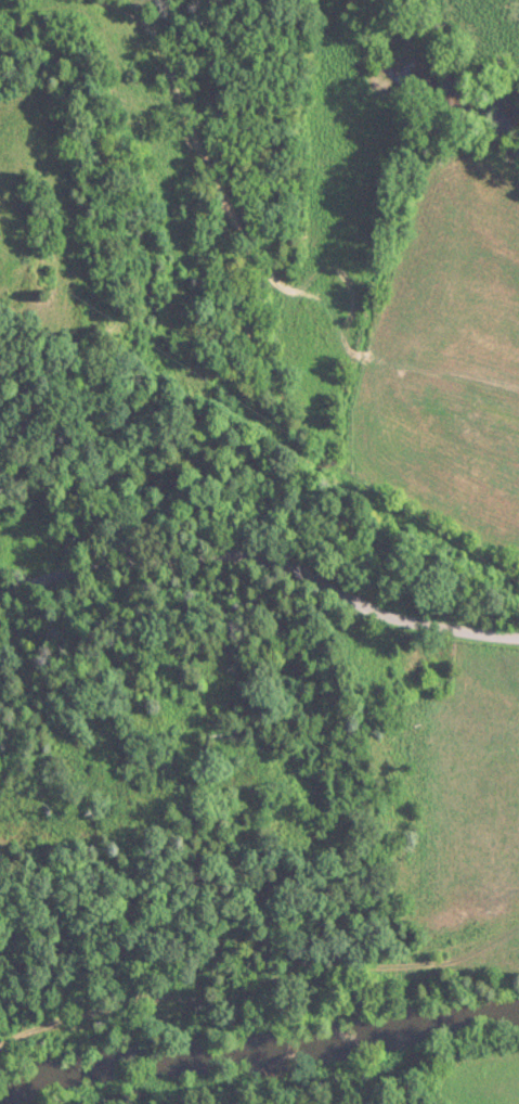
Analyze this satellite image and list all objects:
road: (262, 561)

